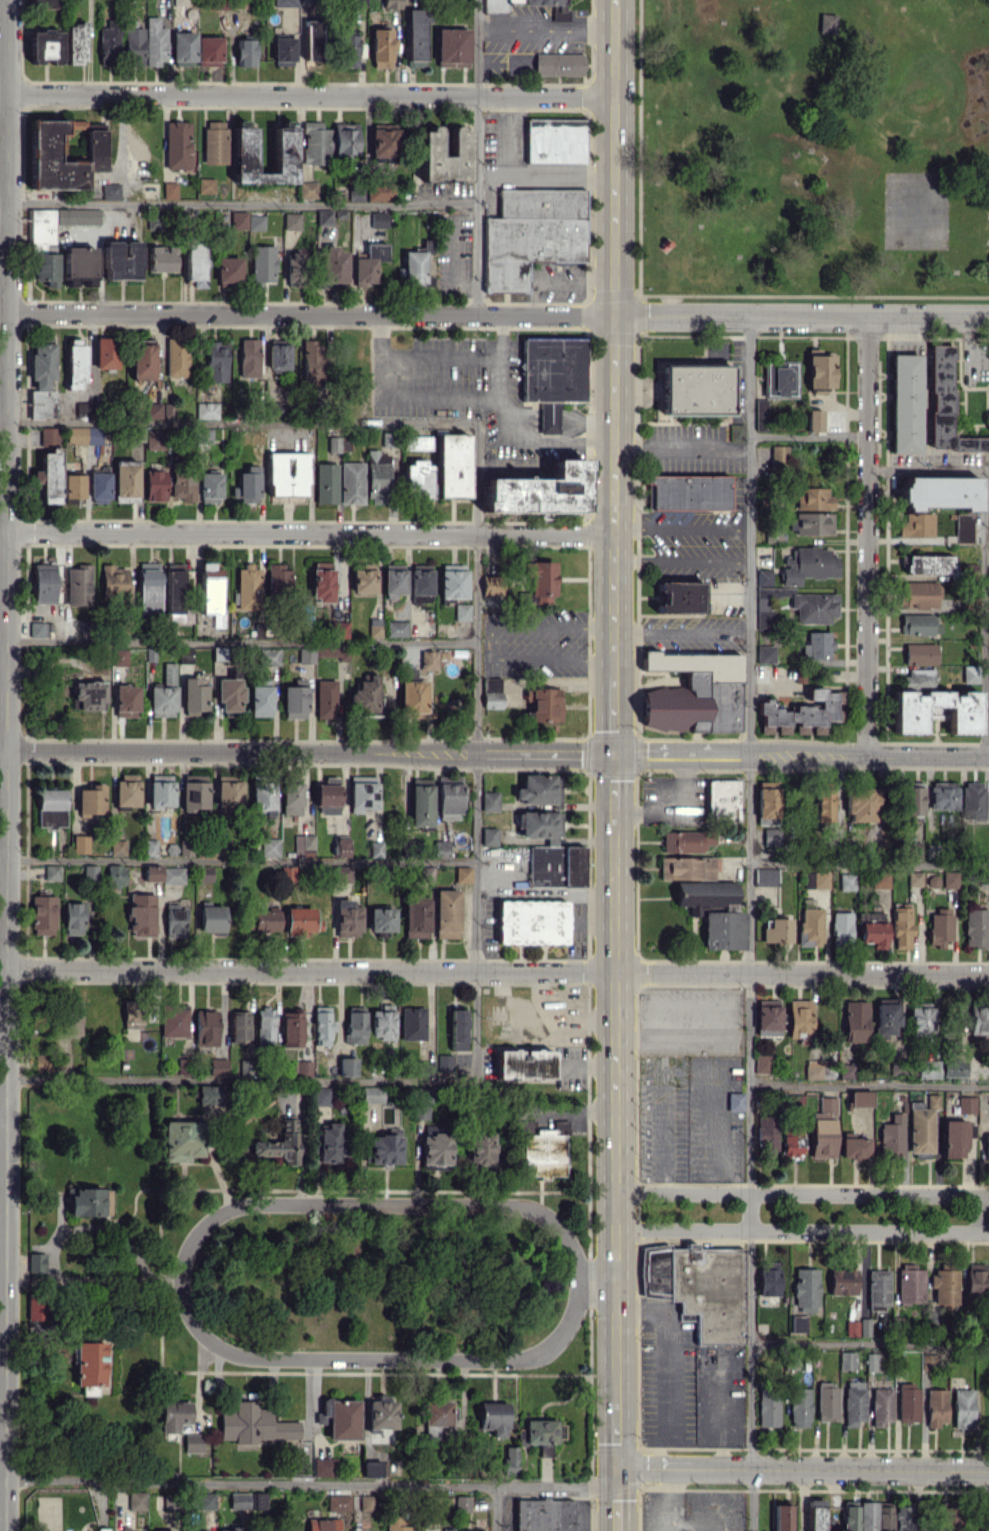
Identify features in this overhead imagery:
building: (291, 3)
building: (391, 4)
building: (495, 10)
building: (828, 23)
road: (546, 28)
building: (416, 37)
building: (311, 39)
building: (155, 41)
building: (75, 42)
building: (108, 43)
building: (45, 45)
building: (134, 46)
building: (452, 47)
building: (183, 48)
building: (381, 48)
building: (283, 50)
building: (208, 51)
building: (347, 51)
building: (244, 52)
building: (559, 64)
road: (4, 93)
road: (310, 94)
road: (515, 135)
building: (344, 138)
building: (555, 140)
building: (383, 141)
building: (214, 142)
building: (458, 143)
building: (177, 145)
building: (95, 146)
building: (284, 149)
park: (811, 151)
road: (478, 158)
building: (52, 159)
road: (497, 174)
road: (565, 174)
building: (206, 185)
building: (169, 189)
building: (307, 189)
building: (110, 190)
building: (379, 191)
building: (355, 194)
road: (239, 203)
park: (916, 209)
building: (77, 216)
building: (323, 217)
building: (378, 219)
building: (154, 220)
building: (291, 221)
building: (255, 222)
building: (531, 234)
building: (43, 247)
building: (161, 259)
building: (120, 260)
building: (194, 261)
building: (368, 262)
building: (262, 264)
building: (78, 265)
building: (333, 267)
building: (412, 268)
building: (294, 269)
building: (228, 271)
road: (558, 277)
parking lot: (558, 280)
road: (498, 317)
road: (614, 321)
building: (105, 353)
building: (278, 355)
road: (501, 355)
building: (176, 357)
building: (249, 357)
building: (311, 359)
building: (143, 360)
building: (215, 361)
building: (74, 364)
building: (818, 370)
road: (7, 375)
building: (552, 376)
building: (42, 380)
building: (779, 380)
building: (695, 390)
road: (401, 394)
building: (904, 403)
building: (945, 403)
building: (83, 409)
building: (276, 409)
building: (158, 410)
building: (209, 410)
building: (760, 413)
building: (814, 420)
road: (238, 422)
building: (83, 435)
road: (538, 435)
building: (49, 436)
building: (203, 436)
road: (807, 436)
building: (155, 439)
building: (418, 442)
road: (630, 442)
building: (336, 443)
road: (698, 444)
building: (778, 456)
building: (452, 465)
road: (927, 470)
building: (287, 473)
building: (50, 476)
building: (376, 477)
building: (418, 478)
building: (125, 480)
building: (351, 482)
building: (246, 483)
building: (326, 483)
building: (154, 485)
building: (73, 486)
building: (183, 486)
building: (99, 487)
building: (209, 487)
building: (538, 491)
building: (688, 492)
building: (812, 498)
building: (810, 523)
building: (916, 525)
building: (963, 527)
road: (680, 528)
road: (3, 530)
road: (309, 533)
building: (773, 536)
road: (749, 539)
road: (866, 539)
road: (681, 560)
building: (927, 564)
building: (808, 565)
building: (763, 576)
building: (112, 579)
building: (278, 579)
building: (420, 579)
building: (363, 580)
building: (394, 580)
building: (452, 581)
building: (540, 582)
building: (43, 583)
building: (321, 584)
building: (492, 584)
building: (78, 585)
building: (247, 587)
building: (148, 589)
road: (476, 589)
building: (210, 593)
building: (917, 594)
building: (177, 596)
building: (680, 596)
building: (420, 598)
building: (796, 606)
building: (462, 612)
road: (984, 615)
building: (919, 624)
building: (39, 628)
building: (396, 628)
road: (681, 634)
parking lot: (533, 639)
road: (238, 640)
road: (489, 643)
building: (817, 645)
building: (332, 652)
building: (765, 654)
building: (919, 654)
building: (305, 655)
building: (118, 657)
building: (268, 657)
road: (614, 659)
building: (428, 660)
building: (918, 678)
building: (229, 692)
building: (491, 692)
building: (163, 693)
building: (693, 693)
building: (87, 695)
building: (193, 696)
building: (366, 696)
building: (325, 698)
building: (413, 699)
building: (260, 700)
building: (294, 702)
building: (543, 704)
building: (935, 710)
building: (799, 714)
road: (614, 716)
building: (988, 716)
road: (237, 752)
traffic signals: (614, 755)
road: (731, 758)
road: (614, 782)
building: (126, 789)
building: (538, 789)
building: (160, 790)
building: (194, 792)
building: (228, 792)
building: (943, 795)
building: (327, 796)
building: (262, 797)
building: (449, 797)
building: (291, 798)
building: (910, 799)
building: (90, 800)
building: (723, 800)
building: (972, 800)
building: (489, 801)
building: (420, 802)
building: (766, 803)
building: (861, 804)
building: (823, 805)
building: (50, 808)
road: (674, 810)
building: (488, 836)
building: (771, 836)
building: (686, 841)
building: (80, 844)
building: (303, 845)
building: (150, 846)
building: (270, 846)
building: (117, 847)
building: (184, 847)
building: (220, 847)
building: (341, 847)
building: (375, 848)
building: (440, 848)
building: (170, 849)
building: (913, 849)
building: (551, 852)
road: (237, 860)
road: (868, 863)
building: (686, 867)
building: (51, 872)
building: (89, 872)
building: (204, 873)
building: (287, 873)
building: (164, 874)
building: (343, 874)
building: (462, 874)
building: (115, 876)
building: (765, 876)
building: (983, 876)
building: (914, 878)
building: (820, 879)
building: (949, 879)
building: (846, 881)
building: (880, 881)
building: (932, 881)
building: (705, 896)
building: (446, 913)
building: (42, 915)
building: (141, 915)
building: (211, 917)
building: (72, 918)
building: (347, 918)
building: (416, 918)
road: (474, 919)
building: (174, 920)
building: (263, 920)
building: (301, 920)
building: (382, 920)
building: (531, 922)
building: (810, 926)
building: (939, 926)
building: (901, 927)
building: (976, 927)
building: (841, 928)
building: (873, 928)
building: (722, 930)
building: (777, 930)
road: (497, 971)
road: (748, 976)
road: (543, 995)
building: (131, 1014)
road: (571, 1017)
building: (799, 1017)
building: (920, 1017)
building: (767, 1018)
building: (887, 1018)
building: (173, 1020)
building: (854, 1021)
building: (978, 1021)
building: (412, 1023)
building: (382, 1024)
building: (239, 1025)
building: (322, 1025)
building: (206, 1026)
building: (355, 1026)
building: (457, 1027)
building: (291, 1028)
building: (42, 1062)
building: (444, 1062)
building: (762, 1063)
building: (523, 1064)
building: (181, 1065)
building: (217, 1066)
building: (347, 1066)
road: (591, 1067)
building: (952, 1067)
building: (303, 1068)
building: (928, 1068)
building: (424, 1069)
building: (819, 1069)
building: (846, 1070)
road: (239, 1080)
road: (868, 1085)
building: (210, 1094)
building: (372, 1094)
building: (323, 1096)
building: (860, 1098)
building: (932, 1099)
building: (735, 1101)
building: (421, 1103)
building: (966, 1103)
road: (615, 1105)
road: (2, 1110)
building: (560, 1126)
building: (823, 1128)
building: (767, 1132)
building: (920, 1133)
building: (892, 1136)
building: (953, 1138)
road: (5, 1140)
building: (181, 1140)
building: (280, 1142)
building: (792, 1142)
building: (330, 1143)
building: (434, 1146)
building: (987, 1146)
building: (480, 1147)
building: (855, 1147)
building: (386, 1149)
building: (542, 1154)
road: (802, 1193)
building: (84, 1201)
road: (750, 1214)
road: (979, 1215)
road: (802, 1235)
building: (35, 1262)
road: (599, 1278)
building: (768, 1278)
park: (381, 1281)
building: (842, 1281)
building: (974, 1283)
building: (910, 1285)
building: (699, 1287)
building: (944, 1288)
building: (805, 1289)
building: (878, 1289)
building: (37, 1309)
building: (798, 1323)
building: (864, 1326)
building: (851, 1328)
road: (869, 1342)
road: (672, 1346)
road: (750, 1351)
road: (518, 1356)
building: (847, 1360)
building: (873, 1362)
building: (826, 1402)
building: (853, 1402)
building: (907, 1402)
building: (881, 1406)
building: (799, 1407)
building: (935, 1407)
building: (768, 1408)
building: (962, 1408)
building: (381, 1411)
building: (322, 1413)
building: (437, 1413)
road: (2, 1416)
building: (493, 1417)
building: (173, 1418)
building: (342, 1419)
building: (253, 1423)
building: (543, 1434)
building: (192, 1442)
road: (616, 1445)
building: (509, 1460)
building: (323, 1466)
traffic signals: (617, 1467)
building: (372, 1468)
road: (803, 1468)
road: (250, 1482)
road: (556, 1487)
road: (751, 1499)
building: (136, 1500)
building: (245, 1500)
building: (206, 1501)
building: (170, 1503)
building: (338, 1503)
building: (366, 1503)
building: (462, 1503)
road: (495, 1508)
road: (617, 1510)
building: (544, 1515)
building: (815, 1515)
building: (849, 1515)
building: (866, 1516)
building: (781, 1517)
building: (883, 1517)
building: (902, 1518)
building: (322, 1524)
building: (396, 1524)
building: (123, 1528)
building: (229, 1529)
building: (447, 1529)
building: (164, 1530)
building: (181, 1530)
building: (471, 1530)

